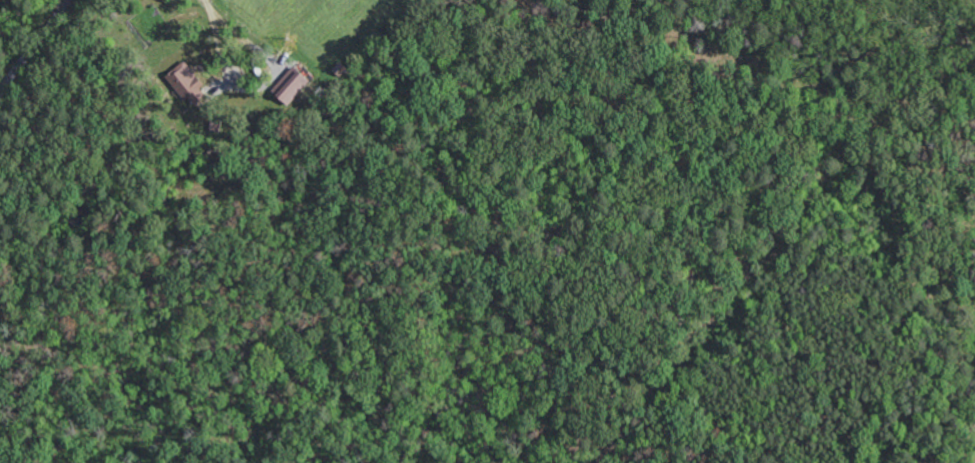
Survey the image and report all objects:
road: (34, 46)
building: (193, 84)
building: (295, 85)

